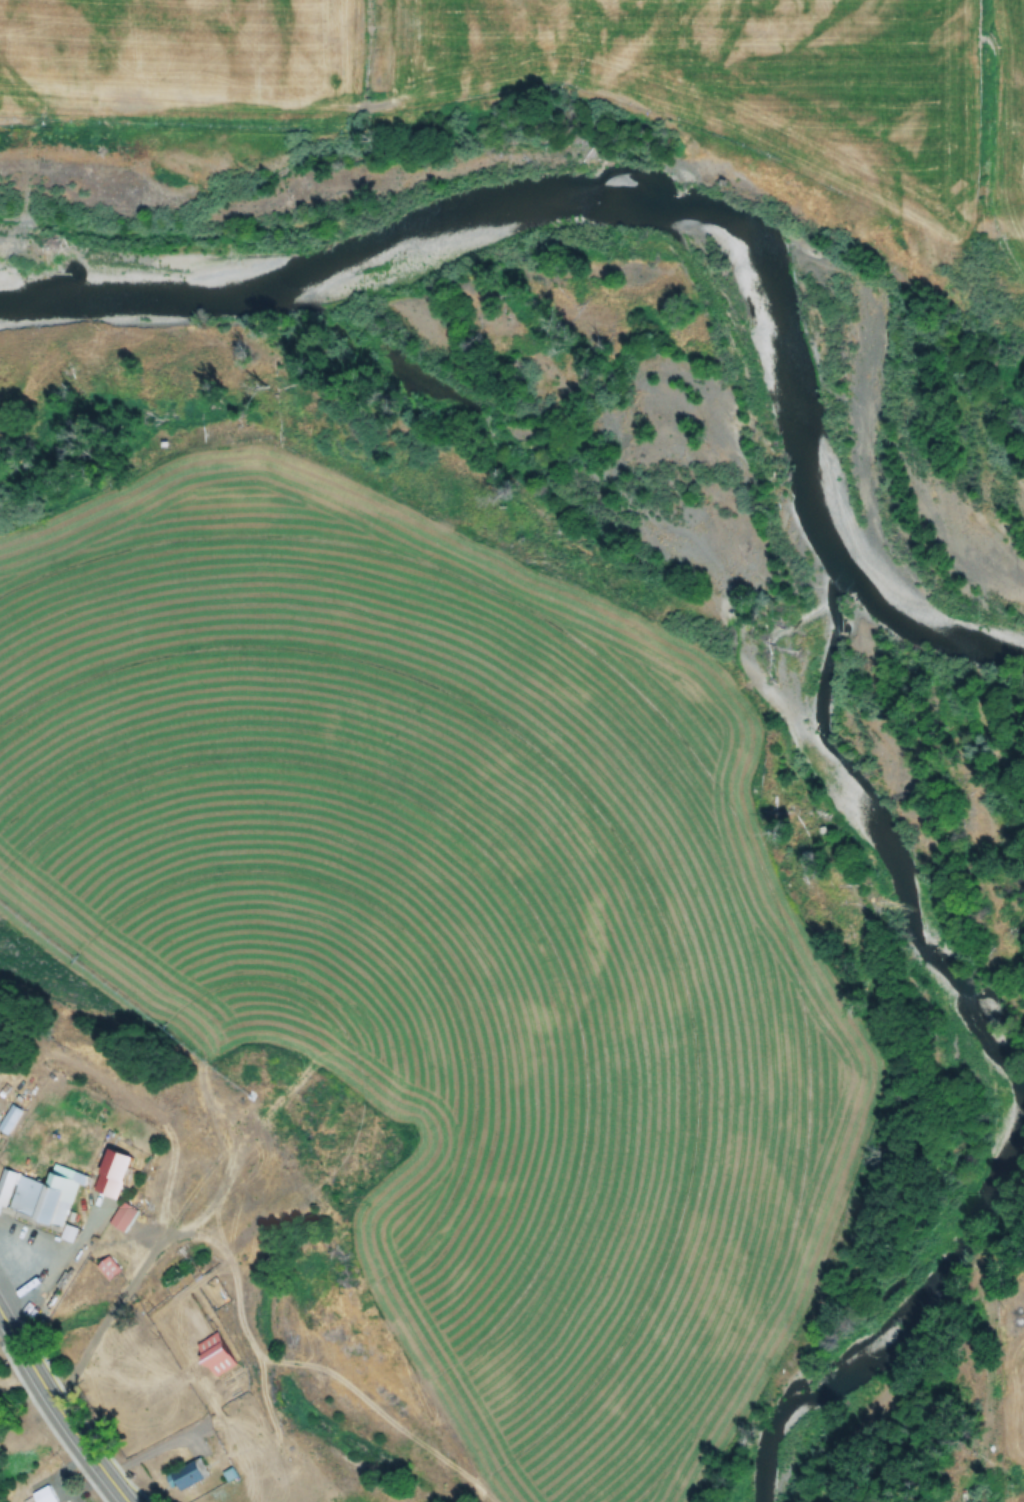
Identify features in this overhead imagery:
river: (534, 204)
river: (927, 618)
river: (978, 1040)
building: (8, 1120)
building: (108, 1176)
building: (39, 1194)
building: (119, 1220)
building: (105, 1270)
road: (0, 1307)
building: (211, 1356)
road: (61, 1406)
building: (227, 1475)
building: (180, 1478)
building: (45, 1491)
building: (27, 1499)

